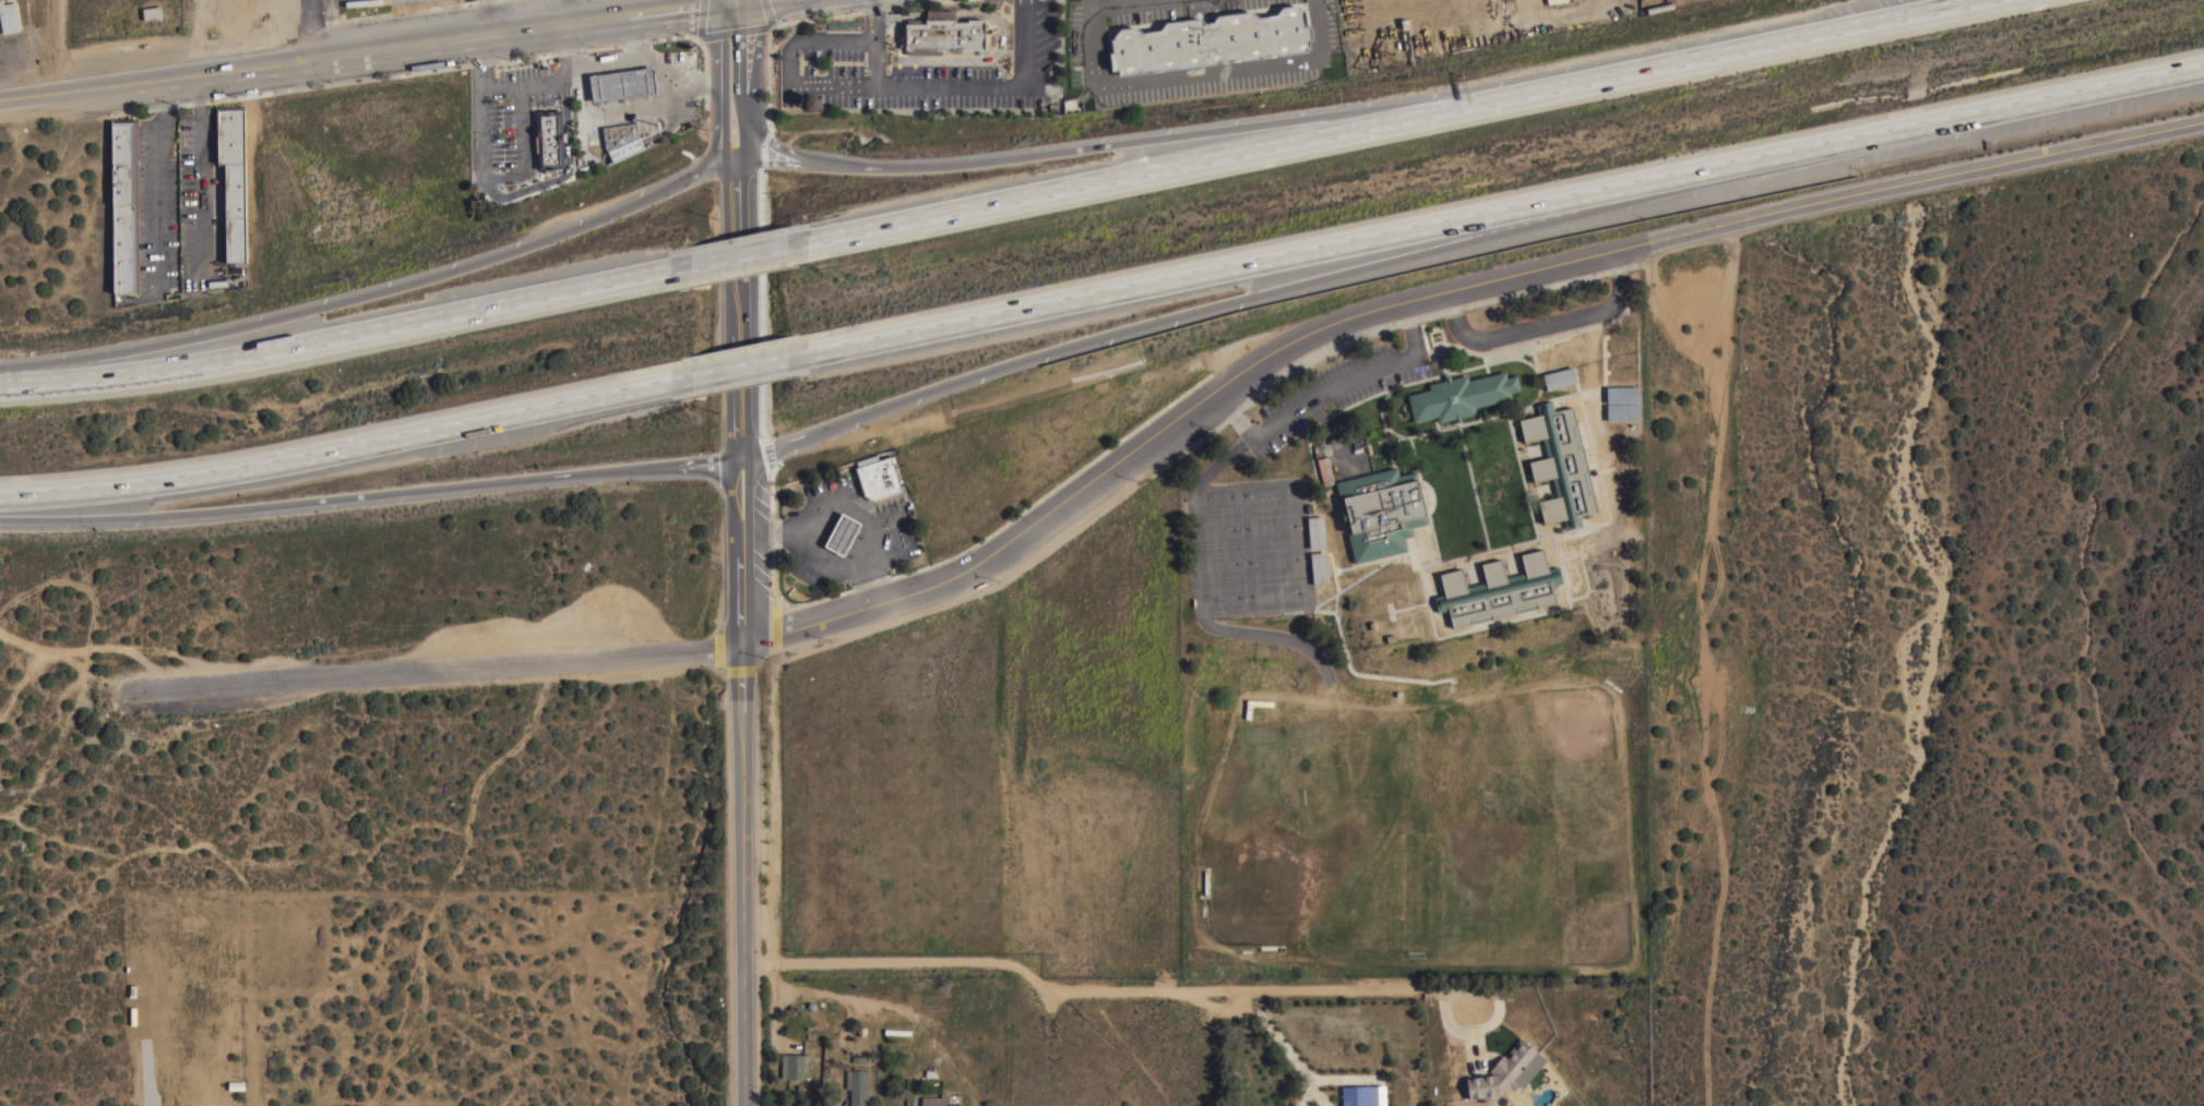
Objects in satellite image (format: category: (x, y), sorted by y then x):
road: (732, 1)
road: (743, 1)
building: (1554, 1)
building: (1659, 7)
building: (152, 12)
road: (557, 12)
road: (871, 13)
building: (9, 17)
road: (486, 17)
road: (315, 27)
building: (942, 33)
road: (629, 38)
building: (1210, 40)
road: (366, 49)
road: (748, 49)
road: (1718, 52)
road: (873, 53)
road: (882, 80)
road: (690, 82)
building: (622, 83)
road: (717, 84)
road: (498, 86)
building: (813, 101)
road: (641, 105)
road: (749, 131)
building: (549, 139)
building: (621, 140)
road: (1105, 143)
road: (205, 167)
road: (522, 168)
road: (561, 171)
road: (1145, 173)
road: (160, 177)
building: (233, 178)
building: (124, 205)
road: (1511, 211)
road: (750, 254)
road: (1443, 291)
road: (376, 293)
road: (1222, 303)
road: (344, 336)
road: (753, 362)
building: (1560, 377)
road: (1331, 384)
building: (1621, 394)
building: (1461, 395)
building: (1622, 411)
road: (346, 444)
building: (1560, 464)
building: (1324, 470)
building: (877, 477)
road: (376, 492)
road: (850, 509)
building: (1381, 510)
building: (1315, 531)
building: (842, 533)
road: (821, 565)
building: (1319, 567)
building: (1498, 590)
road: (753, 633)
road: (444, 666)
building: (1259, 702)
building: (1206, 881)
building: (1272, 948)
road: (1111, 990)
road: (877, 1006)
building: (795, 1065)
building: (1506, 1071)
building: (859, 1087)
building: (1363, 1095)
building: (936, 1099)

